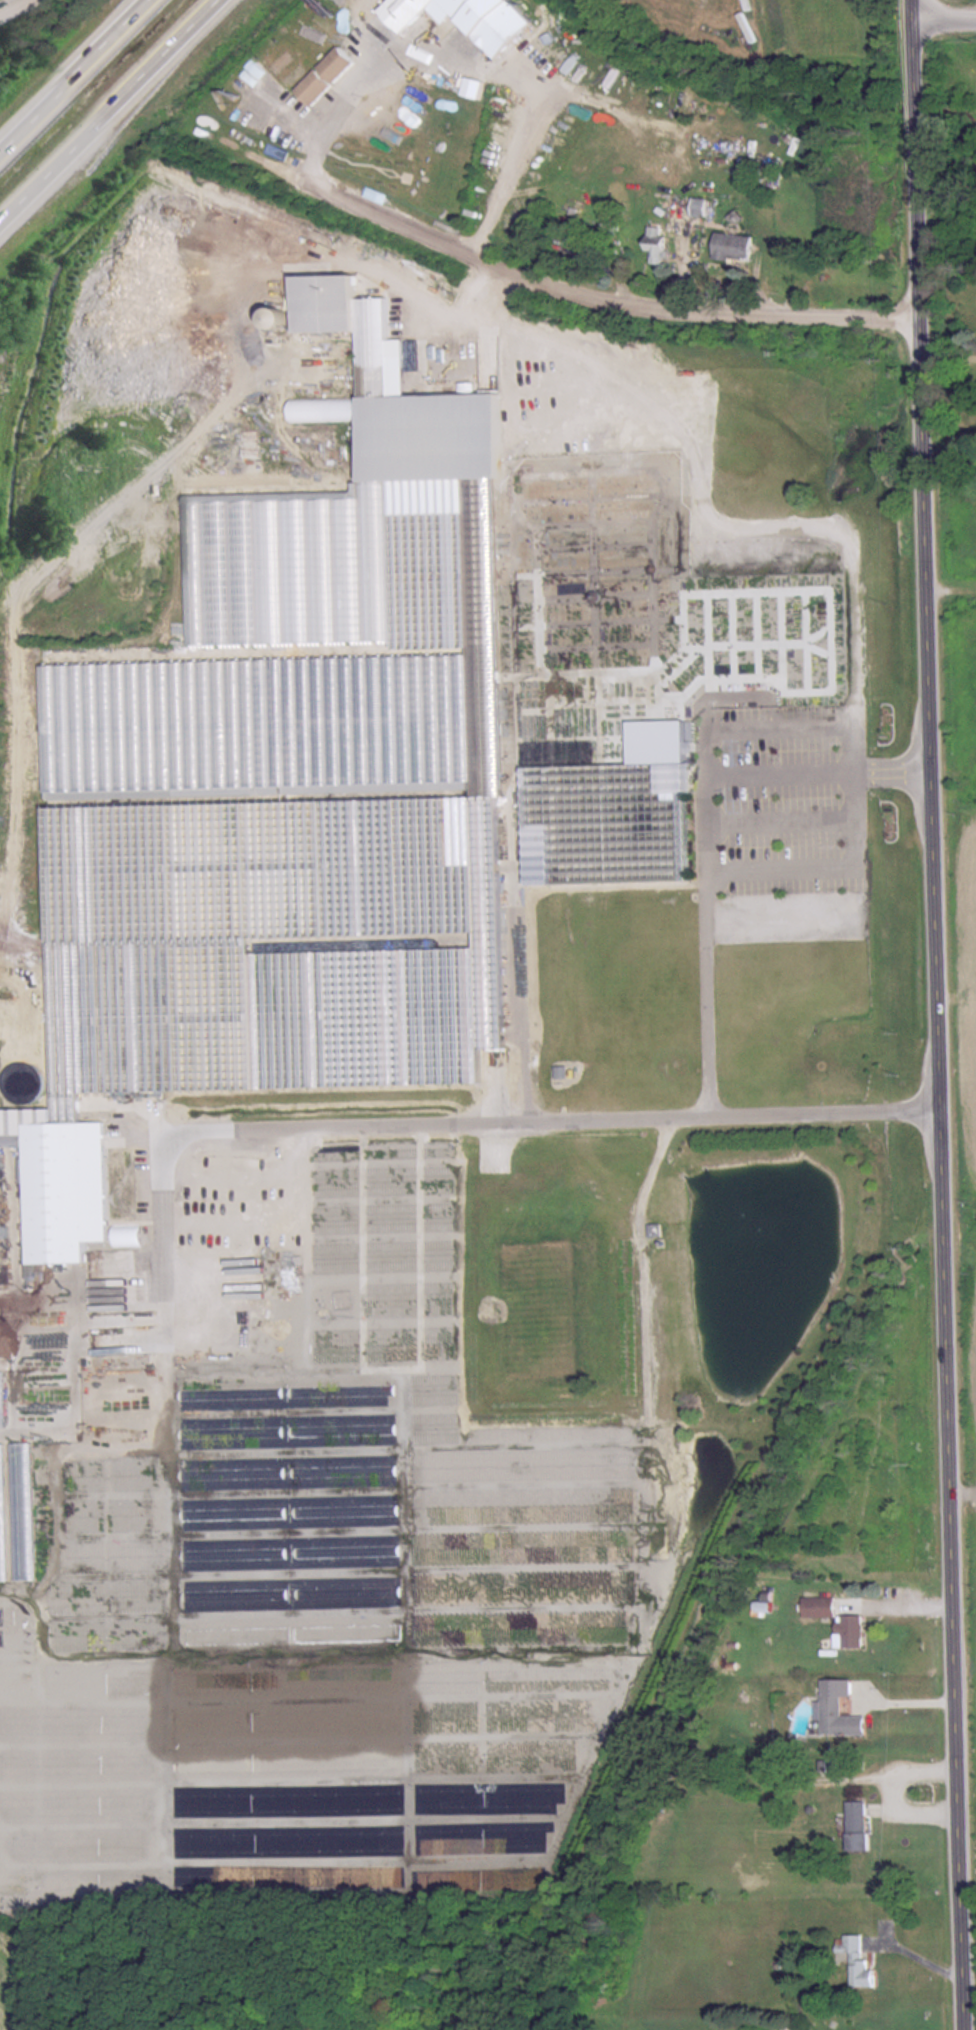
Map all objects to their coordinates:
road: (13, 8)
building: (463, 17)
road: (950, 18)
road: (79, 75)
building: (323, 75)
road: (348, 97)
road: (114, 111)
building: (685, 205)
building: (656, 243)
building: (732, 245)
road: (575, 284)
road: (953, 352)
building: (309, 764)
building: (607, 821)
road: (703, 827)
road: (947, 1015)
building: (10, 1108)
road: (463, 1123)
building: (437, 1161)
building: (64, 1169)
building: (383, 1203)
building: (652, 1228)
building: (439, 1240)
building: (390, 1256)
building: (349, 1276)
building: (439, 1320)
building: (391, 1323)
building: (333, 1346)
building: (0, 1388)
building: (315, 1396)
building: (434, 1410)
building: (357, 1428)
building: (438, 1468)
building: (22, 1511)
building: (2, 1514)
building: (818, 1606)
building: (849, 1630)
road: (912, 1700)
building: (838, 1708)
building: (837, 1766)
road: (892, 1785)
building: (856, 1824)
road: (926, 1956)
building: (856, 1958)
building: (791, 2029)

